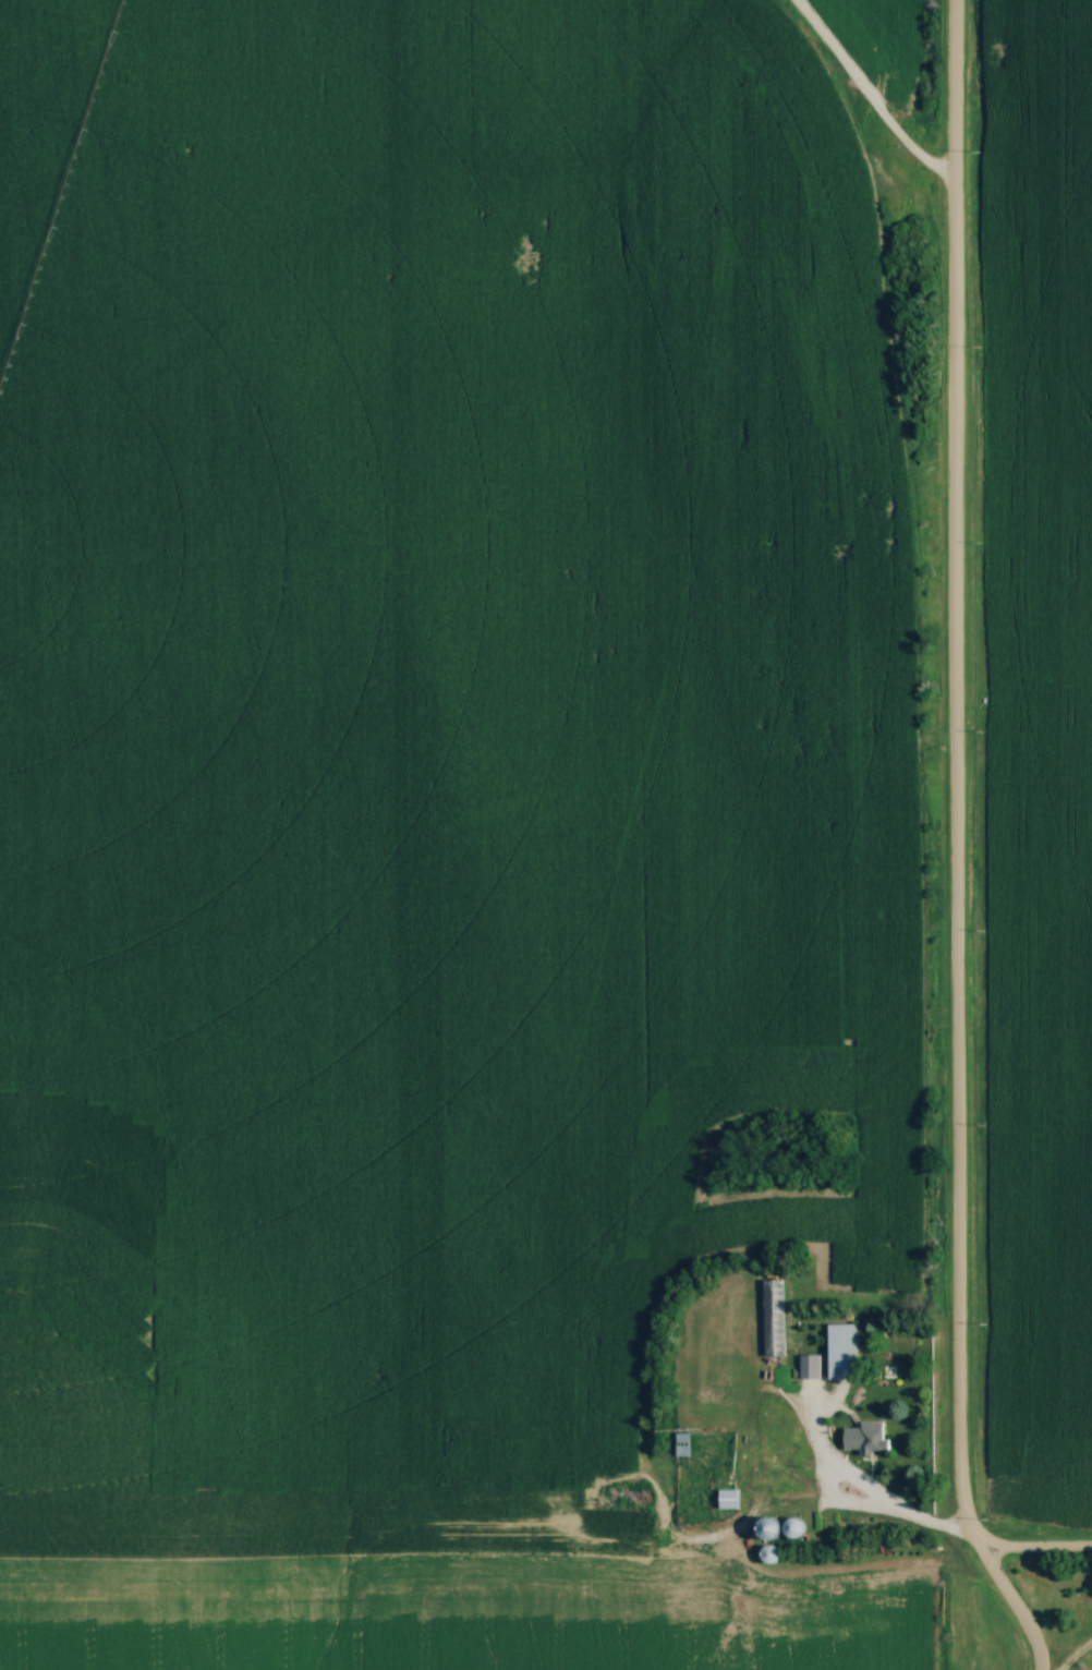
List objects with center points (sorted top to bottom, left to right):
road: (866, 90)
road: (953, 845)
building: (775, 1321)
building: (842, 1355)
building: (809, 1369)
road: (785, 1411)
building: (867, 1439)
building: (683, 1445)
building: (731, 1503)
building: (794, 1528)
building: (772, 1530)
building: (827, 1532)
road: (927, 1532)
building: (771, 1556)
road: (1083, 1662)

